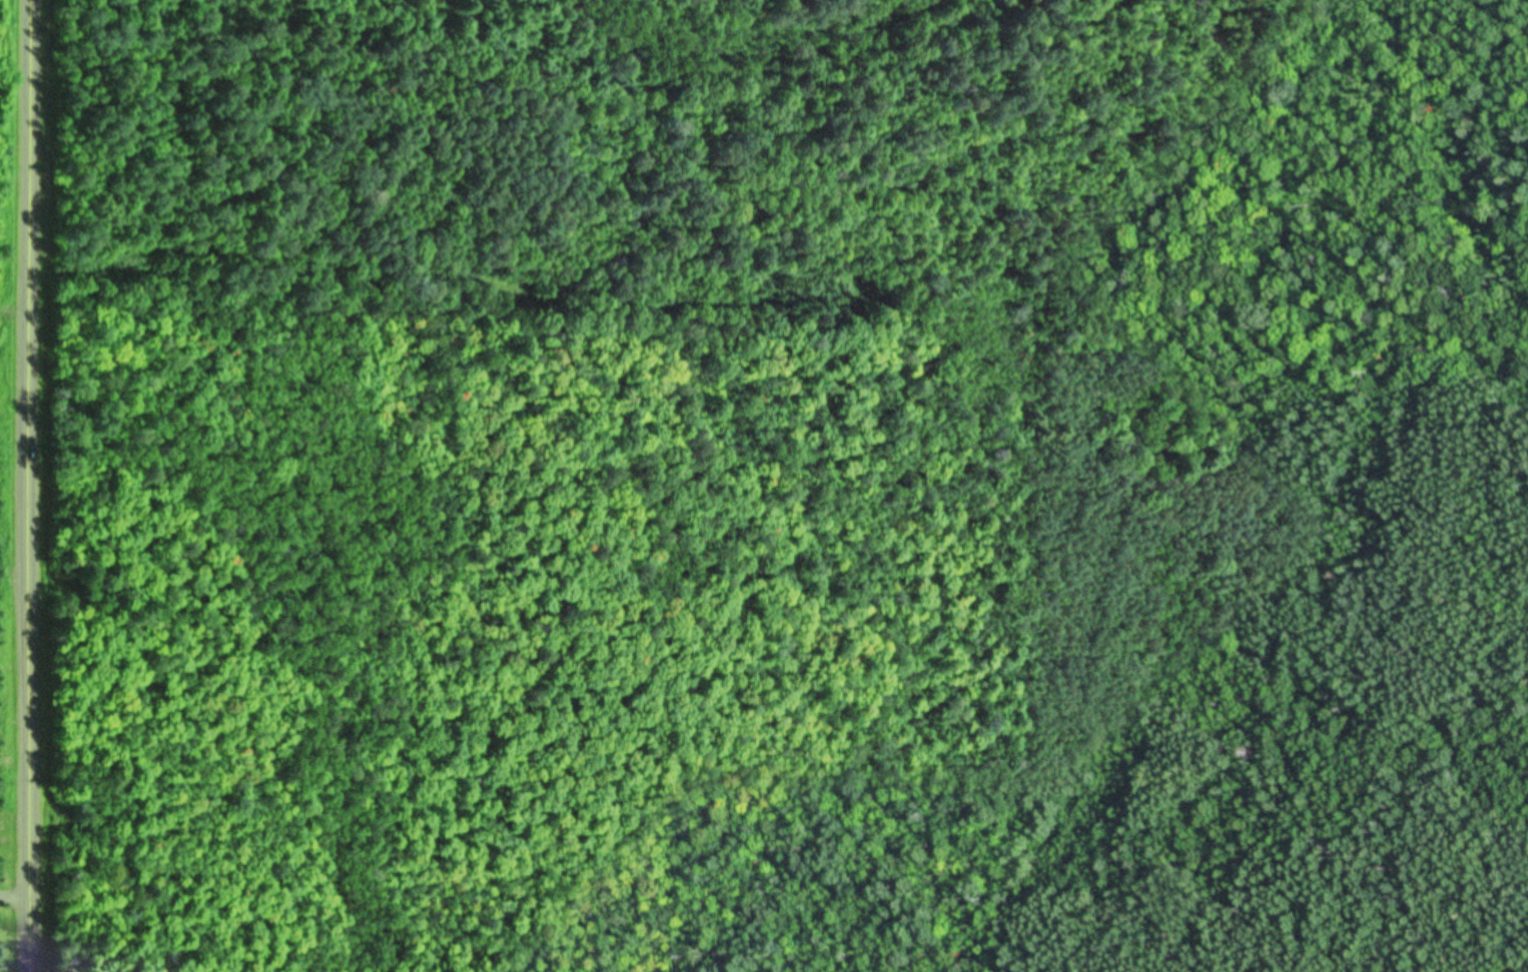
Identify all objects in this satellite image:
road: (30, 485)

